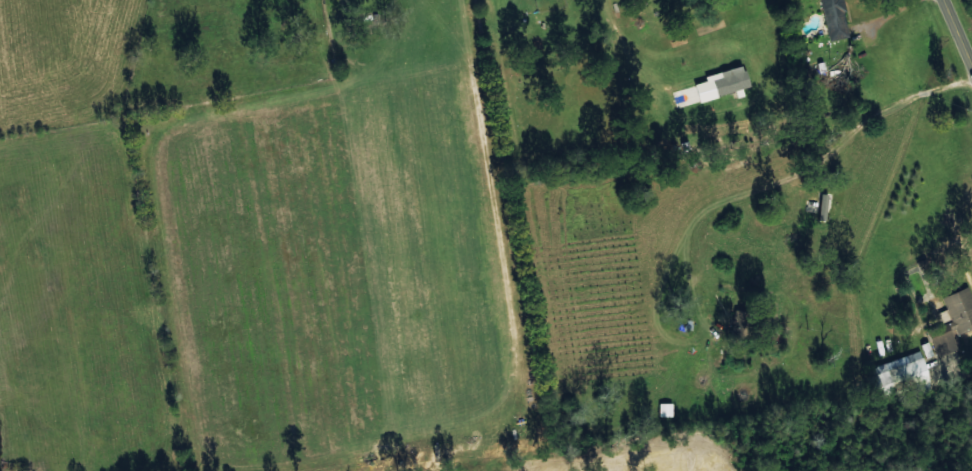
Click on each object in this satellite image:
building: (834, 16)
road: (955, 36)
building: (722, 83)
building: (822, 206)
building: (958, 309)
building: (942, 338)
building: (903, 371)
building: (664, 409)

